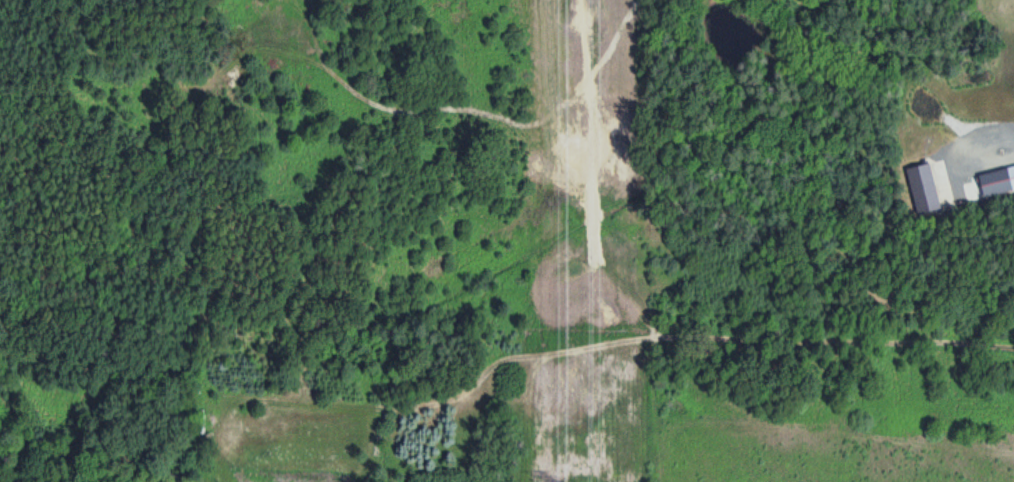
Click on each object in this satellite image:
building: (995, 182)
building: (919, 189)

